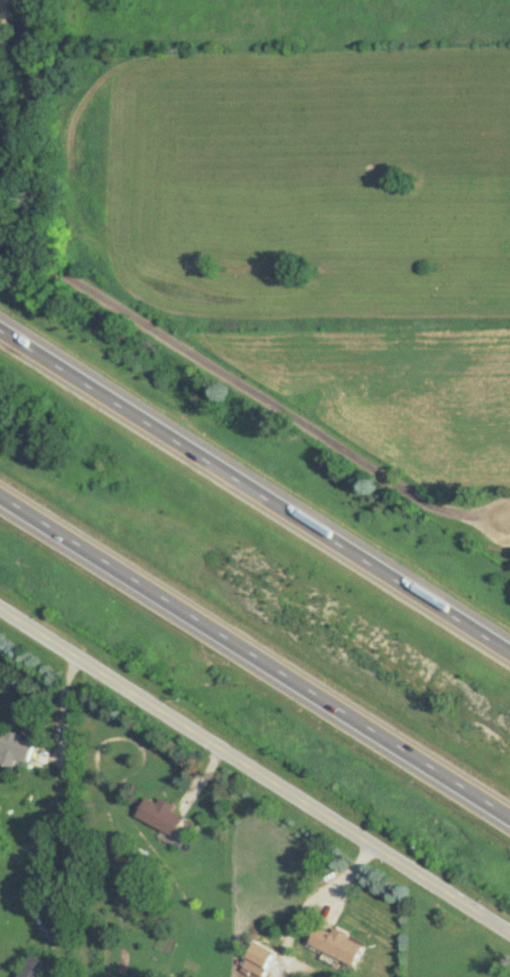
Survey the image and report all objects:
road: (152, 327)
road: (255, 489)
road: (255, 656)
building: (14, 748)
road: (255, 767)
building: (160, 817)
building: (335, 944)
building: (257, 961)
building: (33, 967)

